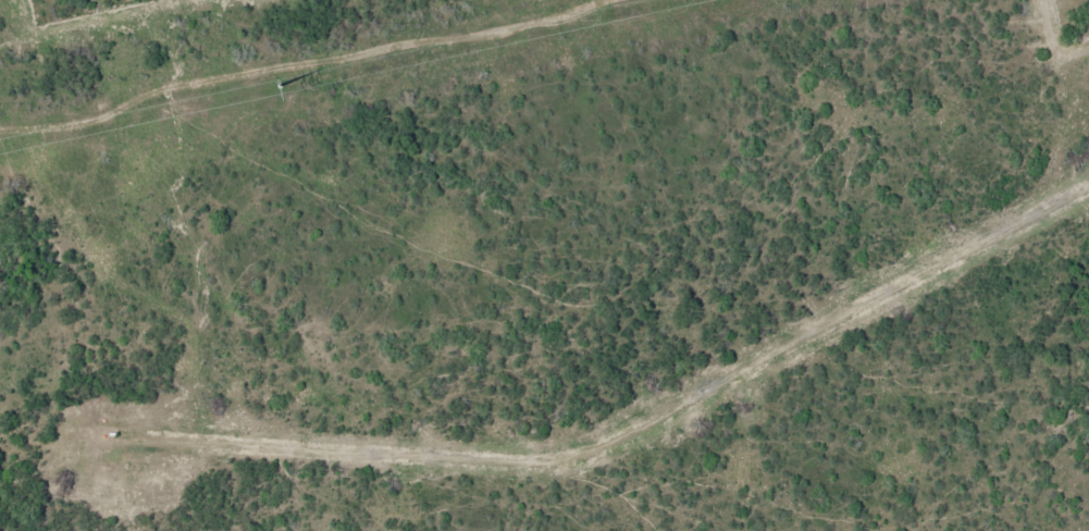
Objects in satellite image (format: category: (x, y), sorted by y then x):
power tower: (281, 84)
building: (1065, 418)

